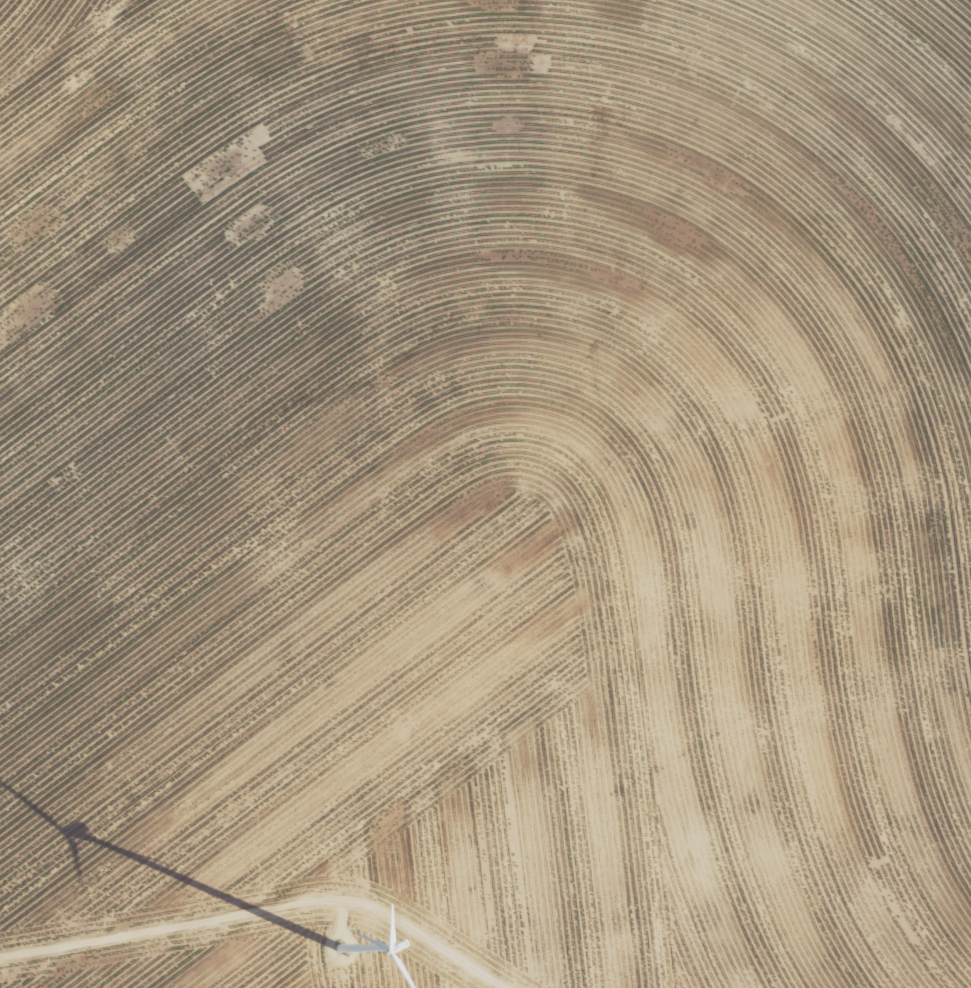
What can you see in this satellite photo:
road: (262, 910)
wind turbine: (353, 938)

